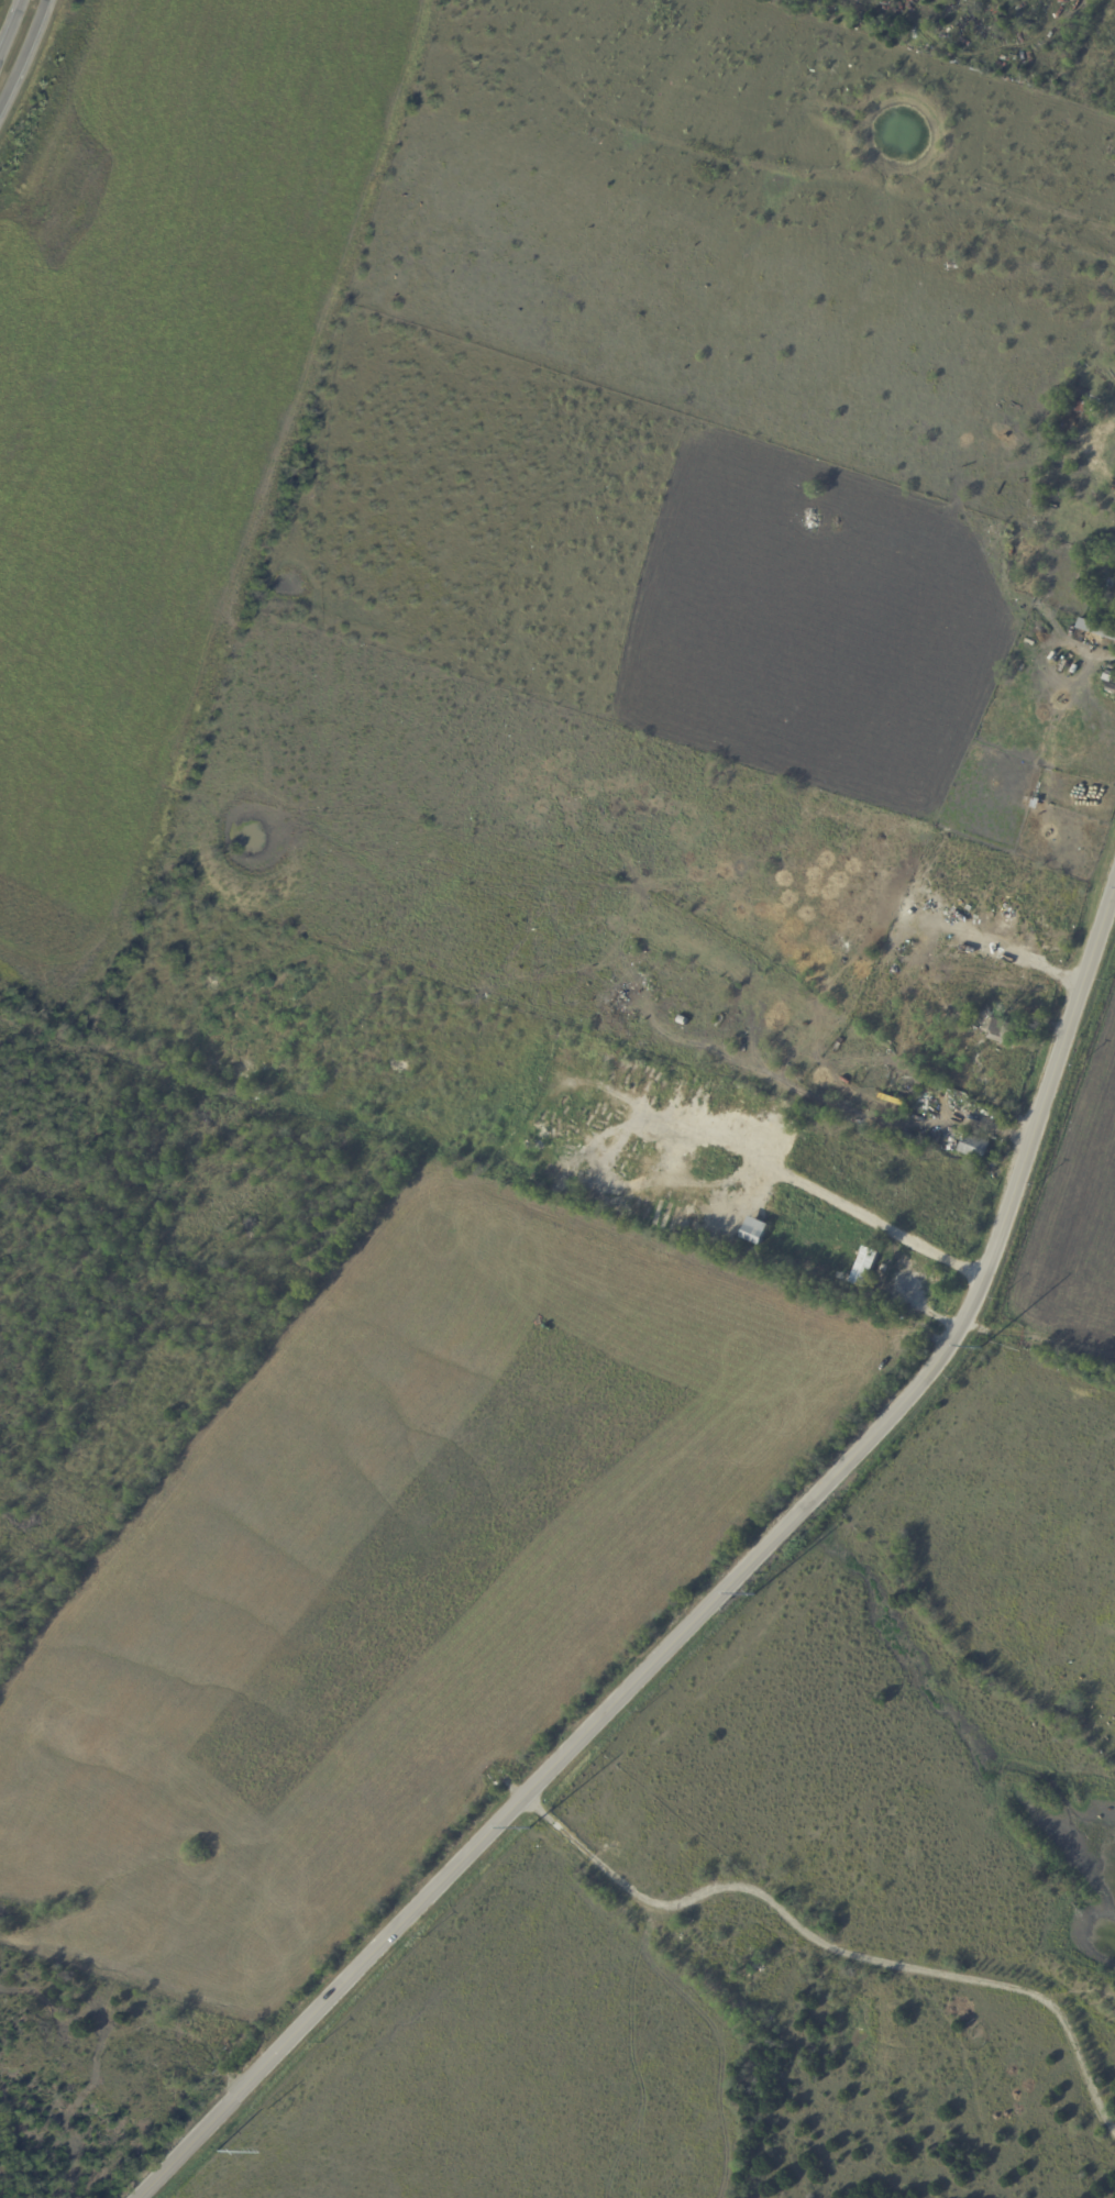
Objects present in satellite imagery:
road: (18, 43)
building: (1082, 408)
building: (1112, 583)
building: (1111, 620)
building: (1097, 627)
building: (1114, 649)
building: (1112, 665)
building: (1111, 671)
building: (1108, 677)
building: (1112, 688)
building: (684, 1010)
building: (683, 1019)
building: (998, 1029)
building: (894, 1082)
building: (907, 1136)
building: (923, 1141)
building: (975, 1147)
building: (888, 1189)
road: (876, 1218)
building: (754, 1231)
building: (864, 1267)
building: (820, 1274)
building: (859, 1293)
road: (710, 1601)
road: (830, 1945)

